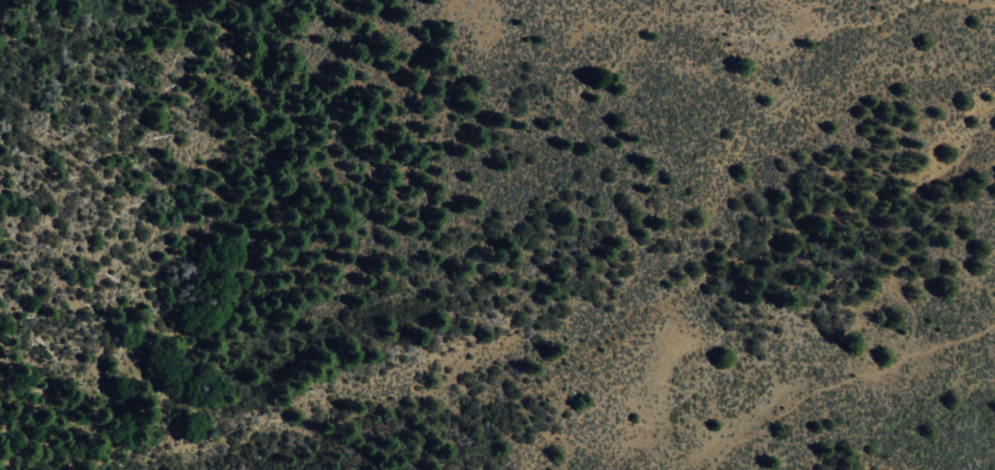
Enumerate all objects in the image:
crop: (991, 262)

